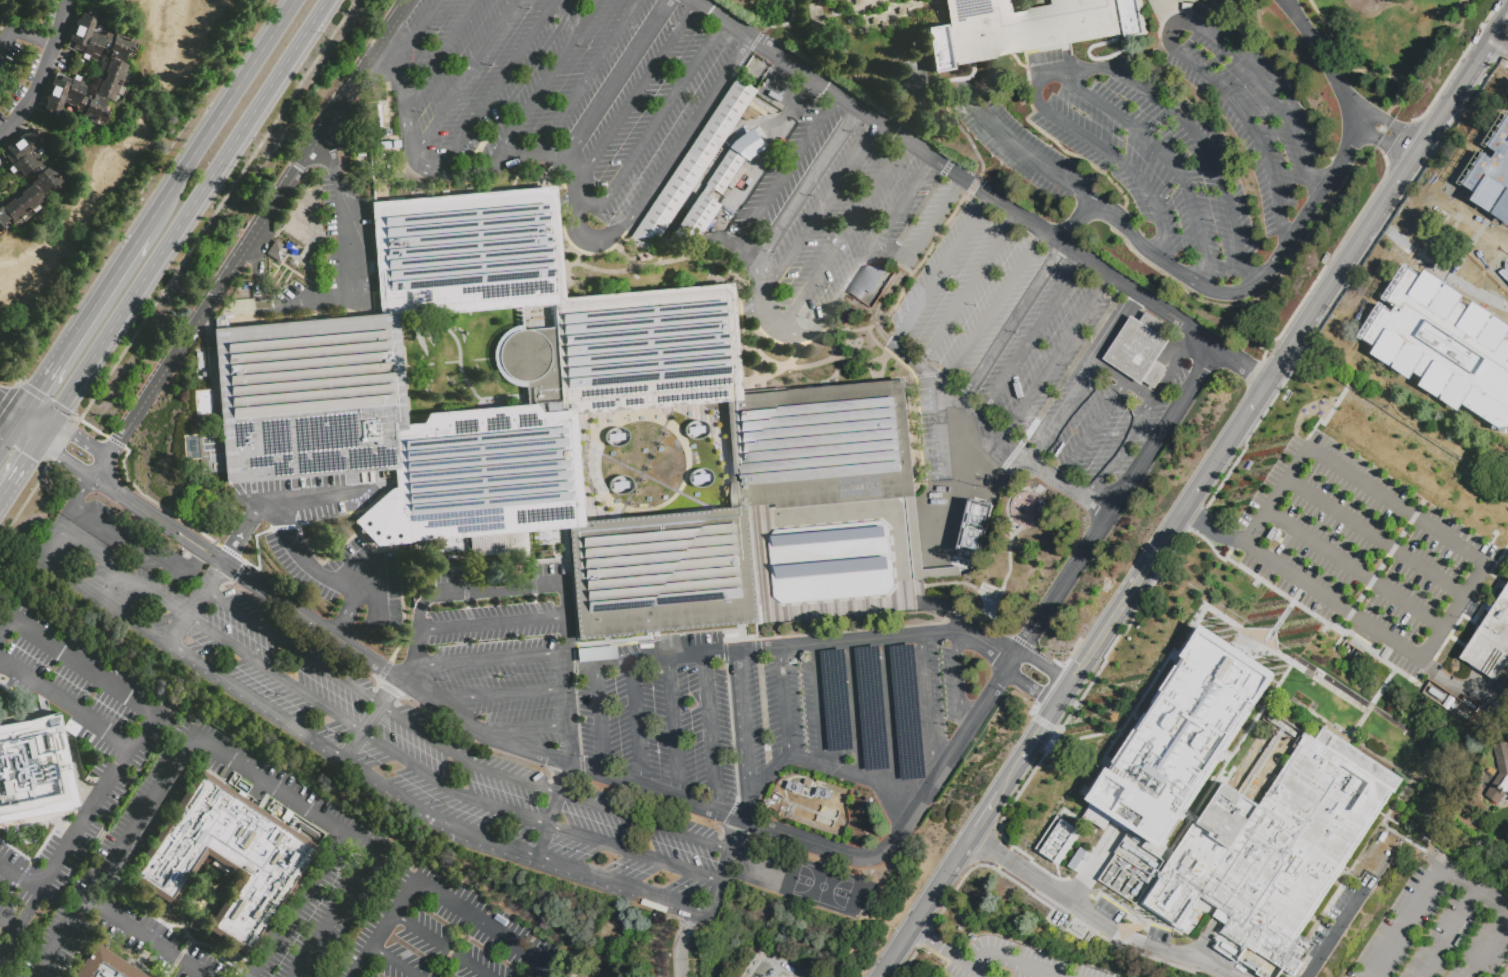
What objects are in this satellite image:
road: (401, 12)
road: (787, 24)
building: (1025, 28)
road: (417, 30)
road: (23, 32)
road: (1168, 34)
park: (1395, 46)
road: (1499, 46)
road: (1257, 47)
road: (1432, 49)
road: (1148, 53)
road: (441, 55)
road: (1095, 59)
road: (1324, 61)
road: (1346, 64)
building: (115, 68)
road: (1093, 69)
road: (42, 72)
road: (589, 74)
road: (1020, 78)
road: (463, 79)
road: (616, 80)
road: (544, 81)
road: (498, 86)
road: (634, 96)
road: (1394, 106)
building: (763, 107)
road: (404, 109)
road: (944, 112)
road: (210, 114)
building: (764, 114)
road: (1379, 123)
road: (651, 125)
road: (1370, 127)
road: (1395, 129)
building: (1383, 131)
road: (688, 132)
building: (759, 135)
road: (1369, 138)
road: (327, 144)
road: (1098, 144)
building: (746, 145)
road: (684, 146)
road: (1392, 147)
road: (542, 150)
road: (1071, 152)
road: (1026, 155)
road: (304, 158)
building: (695, 160)
road: (789, 166)
road: (467, 167)
building: (723, 171)
road: (956, 172)
building: (46, 177)
road: (809, 180)
road: (975, 185)
building: (1496, 206)
road: (820, 209)
road: (187, 214)
building: (696, 216)
road: (1117, 220)
road: (1076, 221)
road: (843, 233)
road: (581, 237)
road: (925, 237)
road: (874, 242)
road: (751, 246)
road: (259, 253)
road: (709, 256)
road: (348, 261)
road: (888, 261)
road: (1346, 261)
road: (177, 269)
road: (942, 269)
building: (1503, 269)
road: (567, 271)
road: (712, 271)
road: (914, 271)
road: (102, 280)
road: (1254, 284)
building: (867, 285)
road: (969, 288)
road: (1264, 289)
road: (761, 293)
building: (239, 305)
road: (993, 307)
building: (737, 310)
road: (1013, 321)
road: (1115, 328)
road: (799, 333)
building: (1460, 334)
road: (1033, 336)
building: (1142, 352)
road: (1058, 355)
road: (1242, 364)
road: (749, 368)
road: (1174, 368)
road: (43, 371)
road: (162, 373)
road: (1121, 383)
traffic signals: (33, 387)
traffic signals: (0, 400)
road: (9, 404)
road: (1062, 410)
road: (32, 419)
building: (549, 420)
road: (9, 423)
road: (1001, 429)
road: (1091, 431)
traffic signals: (73, 434)
road: (79, 438)
road: (1120, 452)
traffic signals: (29, 456)
road: (64, 458)
road: (23, 464)
road: (102, 467)
road: (966, 473)
building: (1003, 478)
building: (1000, 488)
road: (82, 490)
road: (310, 497)
road: (1118, 498)
road: (134, 503)
road: (1397, 506)
building: (1029, 509)
road: (1214, 526)
building: (973, 527)
road: (1170, 529)
road: (242, 532)
road: (119, 534)
building: (987, 536)
building: (1274, 536)
road: (1378, 536)
parking lot: (1375, 539)
road: (201, 542)
road: (59, 550)
road: (195, 550)
road: (303, 558)
building: (832, 565)
building: (968, 566)
road: (1356, 568)
road: (187, 575)
road: (363, 575)
road: (501, 587)
road: (368, 595)
road: (194, 602)
road: (1333, 602)
road: (948, 609)
road: (1107, 613)
road: (347, 615)
road: (1285, 616)
building: (792, 619)
road: (311, 620)
road: (1117, 620)
road: (493, 622)
road: (1190, 626)
road: (7, 628)
building: (809, 630)
building: (794, 631)
building: (778, 632)
road: (890, 637)
building: (1492, 645)
road: (293, 646)
road: (1260, 653)
road: (678, 655)
road: (1015, 656)
road: (487, 657)
road: (83, 665)
road: (1008, 666)
road: (1043, 666)
road: (400, 675)
road: (1000, 678)
road: (1454, 681)
road: (959, 683)
road: (1029, 688)
road: (1060, 693)
road: (1379, 693)
road: (495, 694)
building: (1436, 694)
road: (784, 701)
road: (65, 702)
road: (821, 706)
road: (927, 707)
building: (1471, 707)
road: (856, 711)
road: (892, 716)
road: (600, 718)
building: (1464, 718)
road: (563, 721)
road: (745, 722)
road: (636, 723)
road: (520, 727)
road: (674, 727)
road: (143, 729)
road: (711, 733)
road: (1035, 733)
building: (1184, 736)
building: (34, 772)
road: (770, 774)
road: (854, 777)
road: (1007, 777)
building: (1500, 778)
road: (549, 789)
road: (285, 793)
road: (747, 806)
road: (984, 814)
road: (730, 816)
road: (74, 836)
building: (1057, 840)
building: (1277, 847)
road: (1010, 848)
road: (114, 855)
building: (224, 856)
road: (1004, 858)
building: (1138, 858)
building: (1077, 860)
building: (1383, 866)
road: (997, 868)
road: (996, 870)
road: (722, 871)
road: (798, 872)
road: (20, 877)
road: (1083, 881)
road: (1426, 891)
road: (797, 895)
road: (432, 896)
road: (296, 904)
road: (925, 905)
road: (334, 914)
road: (1093, 918)
road: (8, 921)
road: (1449, 931)
road: (924, 935)
road: (1334, 935)
road: (147, 937)
road: (8, 940)
road: (684, 941)
road: (442, 945)
road: (1489, 948)
road: (945, 951)
road: (993, 956)
road: (908, 960)
road: (391, 963)
road: (442, 964)
power substation: (770, 964)
building: (105, 966)
road: (756, 969)
road: (1037, 970)
road: (543, 972)
road: (982, 975)

